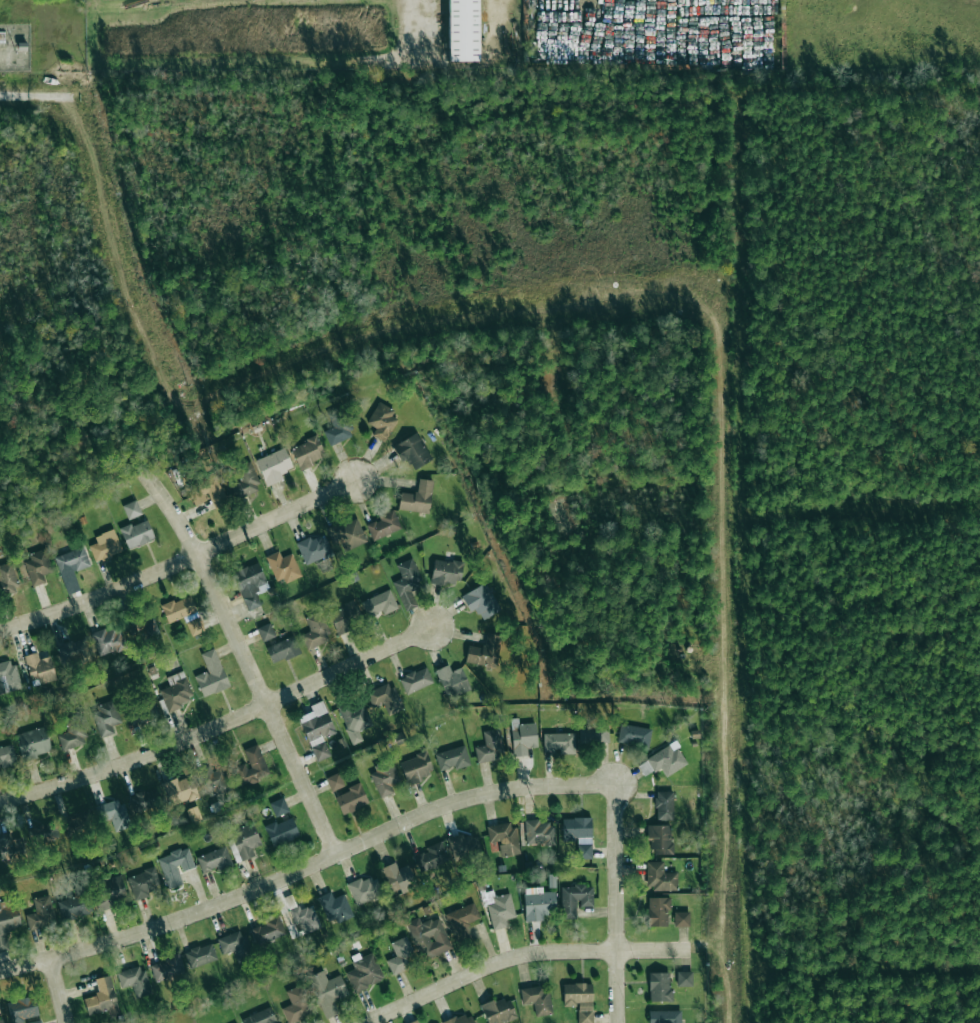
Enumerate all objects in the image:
building: (462, 30)
road: (35, 95)
building: (382, 421)
building: (338, 427)
building: (412, 451)
building: (307, 453)
building: (273, 466)
building: (245, 480)
building: (207, 492)
building: (417, 498)
building: (132, 509)
building: (384, 525)
building: (137, 534)
building: (347, 534)
building: (105, 545)
building: (314, 549)
road: (180, 562)
building: (37, 567)
building: (71, 567)
building: (283, 567)
building: (446, 571)
building: (7, 579)
building: (407, 583)
building: (250, 585)
building: (481, 601)
building: (379, 603)
building: (178, 609)
building: (345, 617)
building: (194, 626)
building: (315, 631)
building: (266, 632)
building: (107, 641)
building: (72, 649)
road: (242, 650)
building: (282, 650)
building: (484, 652)
building: (39, 668)
building: (211, 674)
building: (8, 676)
building: (415, 679)
building: (451, 679)
building: (175, 691)
building: (380, 694)
building: (143, 712)
building: (105, 717)
building: (354, 720)
road: (219, 724)
building: (317, 729)
building: (73, 733)
building: (593, 733)
building: (633, 734)
building: (522, 737)
building: (559, 742)
building: (32, 743)
building: (488, 746)
building: (6, 755)
building: (452, 758)
building: (666, 759)
building: (251, 766)
building: (415, 768)
building: (383, 779)
building: (212, 780)
building: (334, 781)
building: (180, 790)
building: (350, 799)
building: (145, 800)
building: (664, 805)
building: (278, 807)
building: (113, 813)
building: (76, 821)
building: (281, 831)
building: (42, 832)
building: (539, 832)
building: (578, 834)
building: (504, 838)
building: (659, 839)
building: (245, 840)
building: (462, 844)
building: (8, 845)
building: (432, 855)
building: (214, 860)
building: (175, 865)
road: (306, 867)
building: (398, 877)
building: (659, 877)
building: (143, 882)
building: (364, 889)
building: (109, 892)
building: (574, 899)
building: (538, 903)
road: (615, 904)
building: (335, 907)
building: (500, 910)
building: (658, 911)
building: (41, 913)
building: (304, 918)
building: (681, 918)
building: (461, 920)
building: (8, 924)
building: (267, 931)
building: (429, 936)
building: (234, 944)
road: (541, 951)
building: (200, 955)
building: (401, 955)
building: (166, 967)
building: (364, 972)
building: (683, 978)
building: (134, 980)
building: (659, 986)
road: (56, 991)
building: (327, 992)
building: (101, 998)
building: (579, 999)
building: (536, 1000)
building: (297, 1004)
building: (21, 1008)
building: (498, 1010)
building: (260, 1016)
building: (664, 1016)
building: (461, 1018)
building: (1, 1021)
building: (34, 1021)

